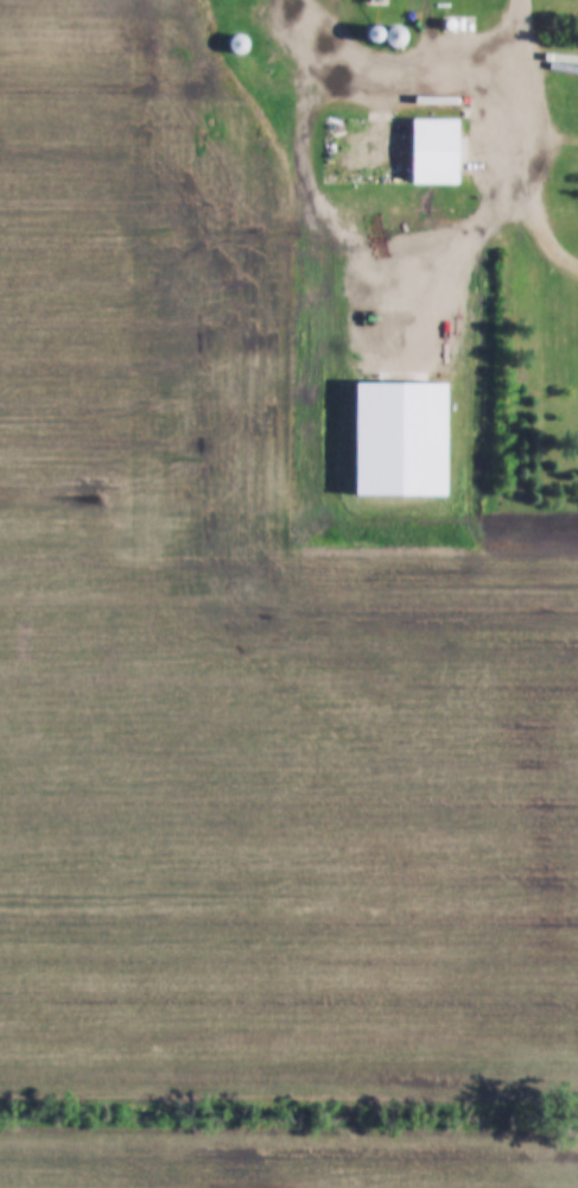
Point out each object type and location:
building: (451, 24)
storage tank: (451, 24)
building: (377, 32)
silo: (377, 32)
building: (400, 33)
silo: (400, 33)
building: (242, 45)
silo: (242, 45)
building: (248, 63)
silo: (248, 63)
building: (474, 75)
storage tank: (474, 75)
building: (301, 76)
silo: (301, 76)
building: (262, 78)
silo: (262, 78)
building: (281, 81)
silo: (281, 81)
building: (389, 151)
road: (464, 154)
crop: (260, 663)

